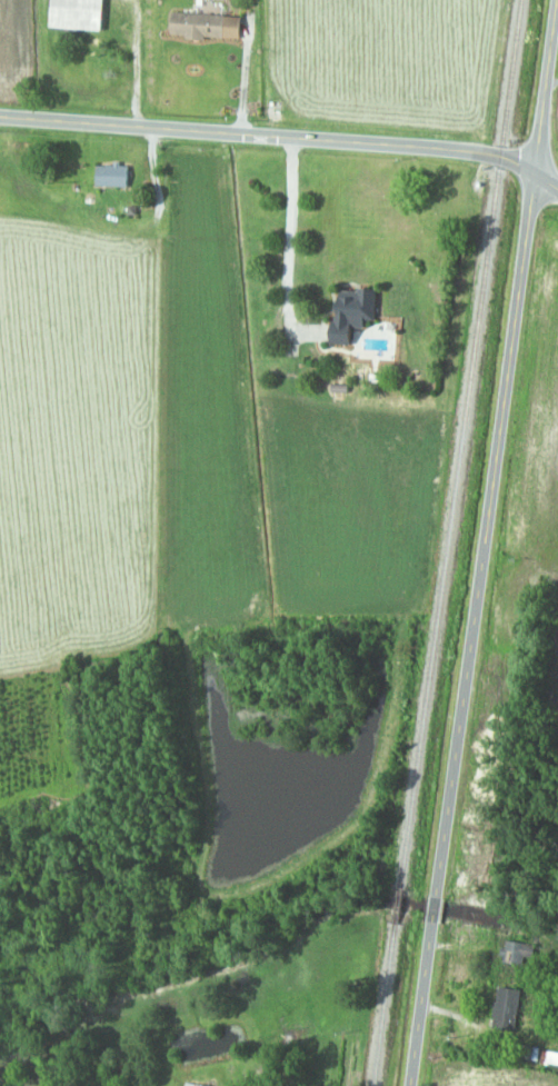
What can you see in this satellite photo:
road: (556, 7)
building: (80, 14)
building: (200, 22)
road: (282, 130)
building: (113, 175)
building: (356, 312)
railway: (460, 445)
road: (495, 448)
railway: (398, 906)
road: (432, 910)
building: (520, 952)
railway: (383, 1004)
road: (419, 1004)
building: (508, 1009)
building: (550, 1058)
building: (192, 1085)

